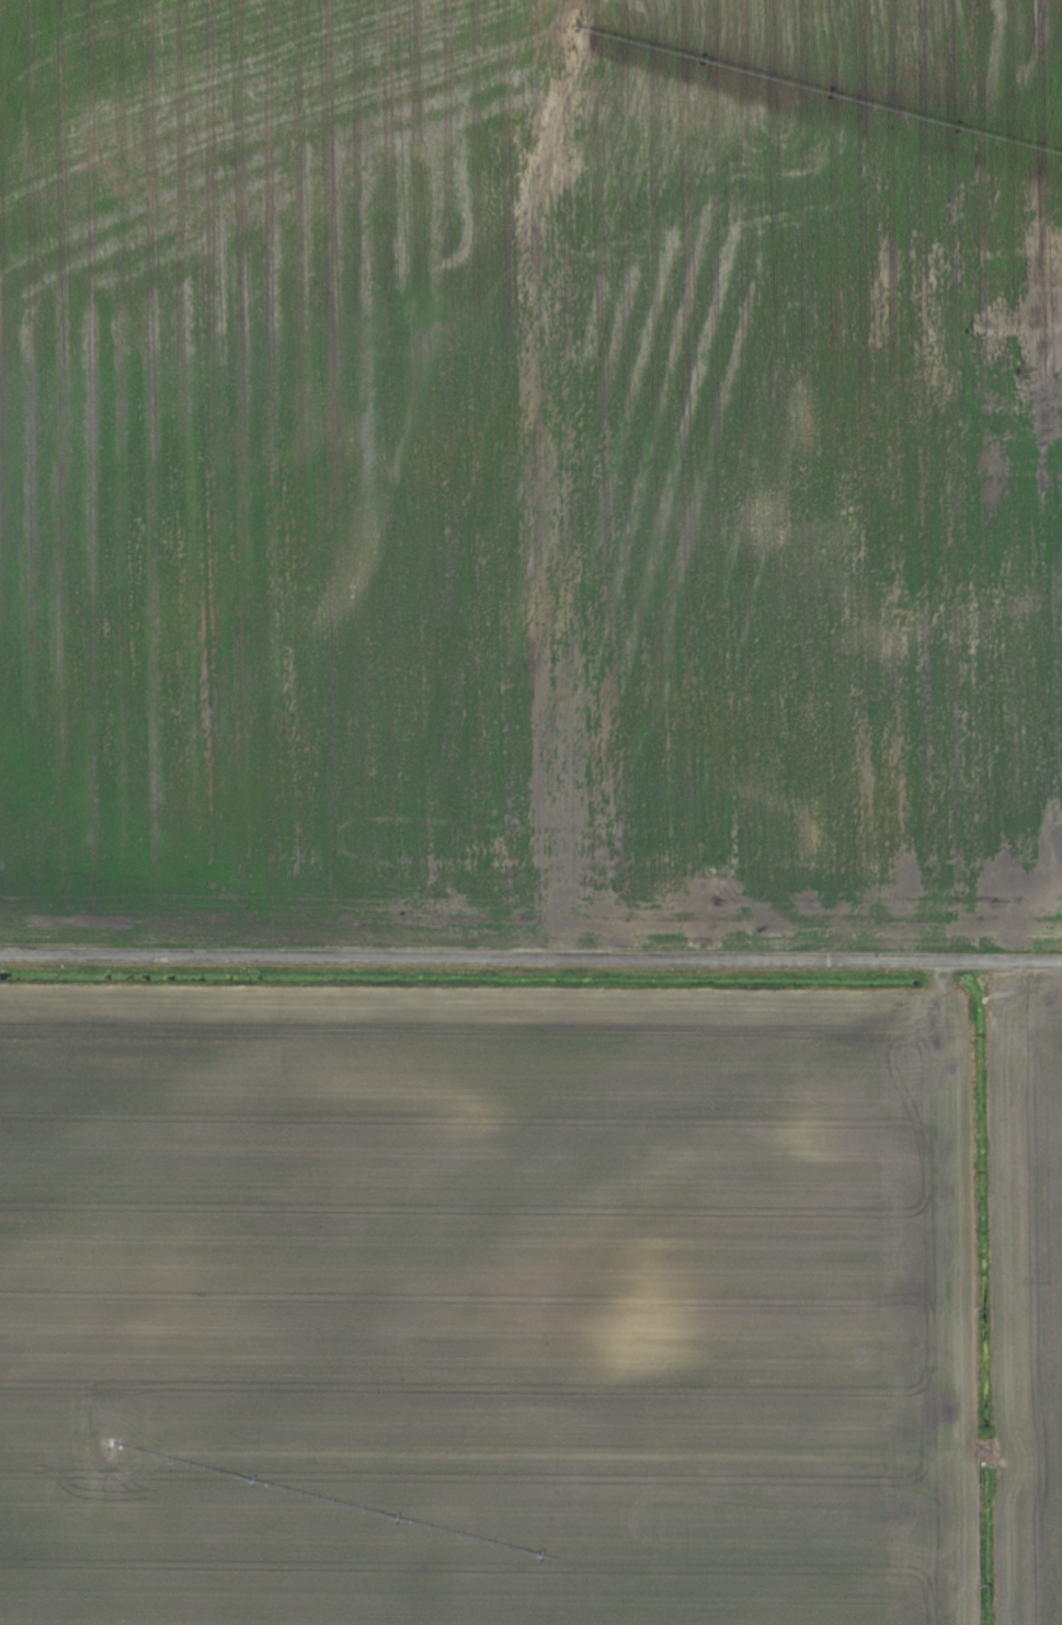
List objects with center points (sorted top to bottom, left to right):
road: (530, 957)

